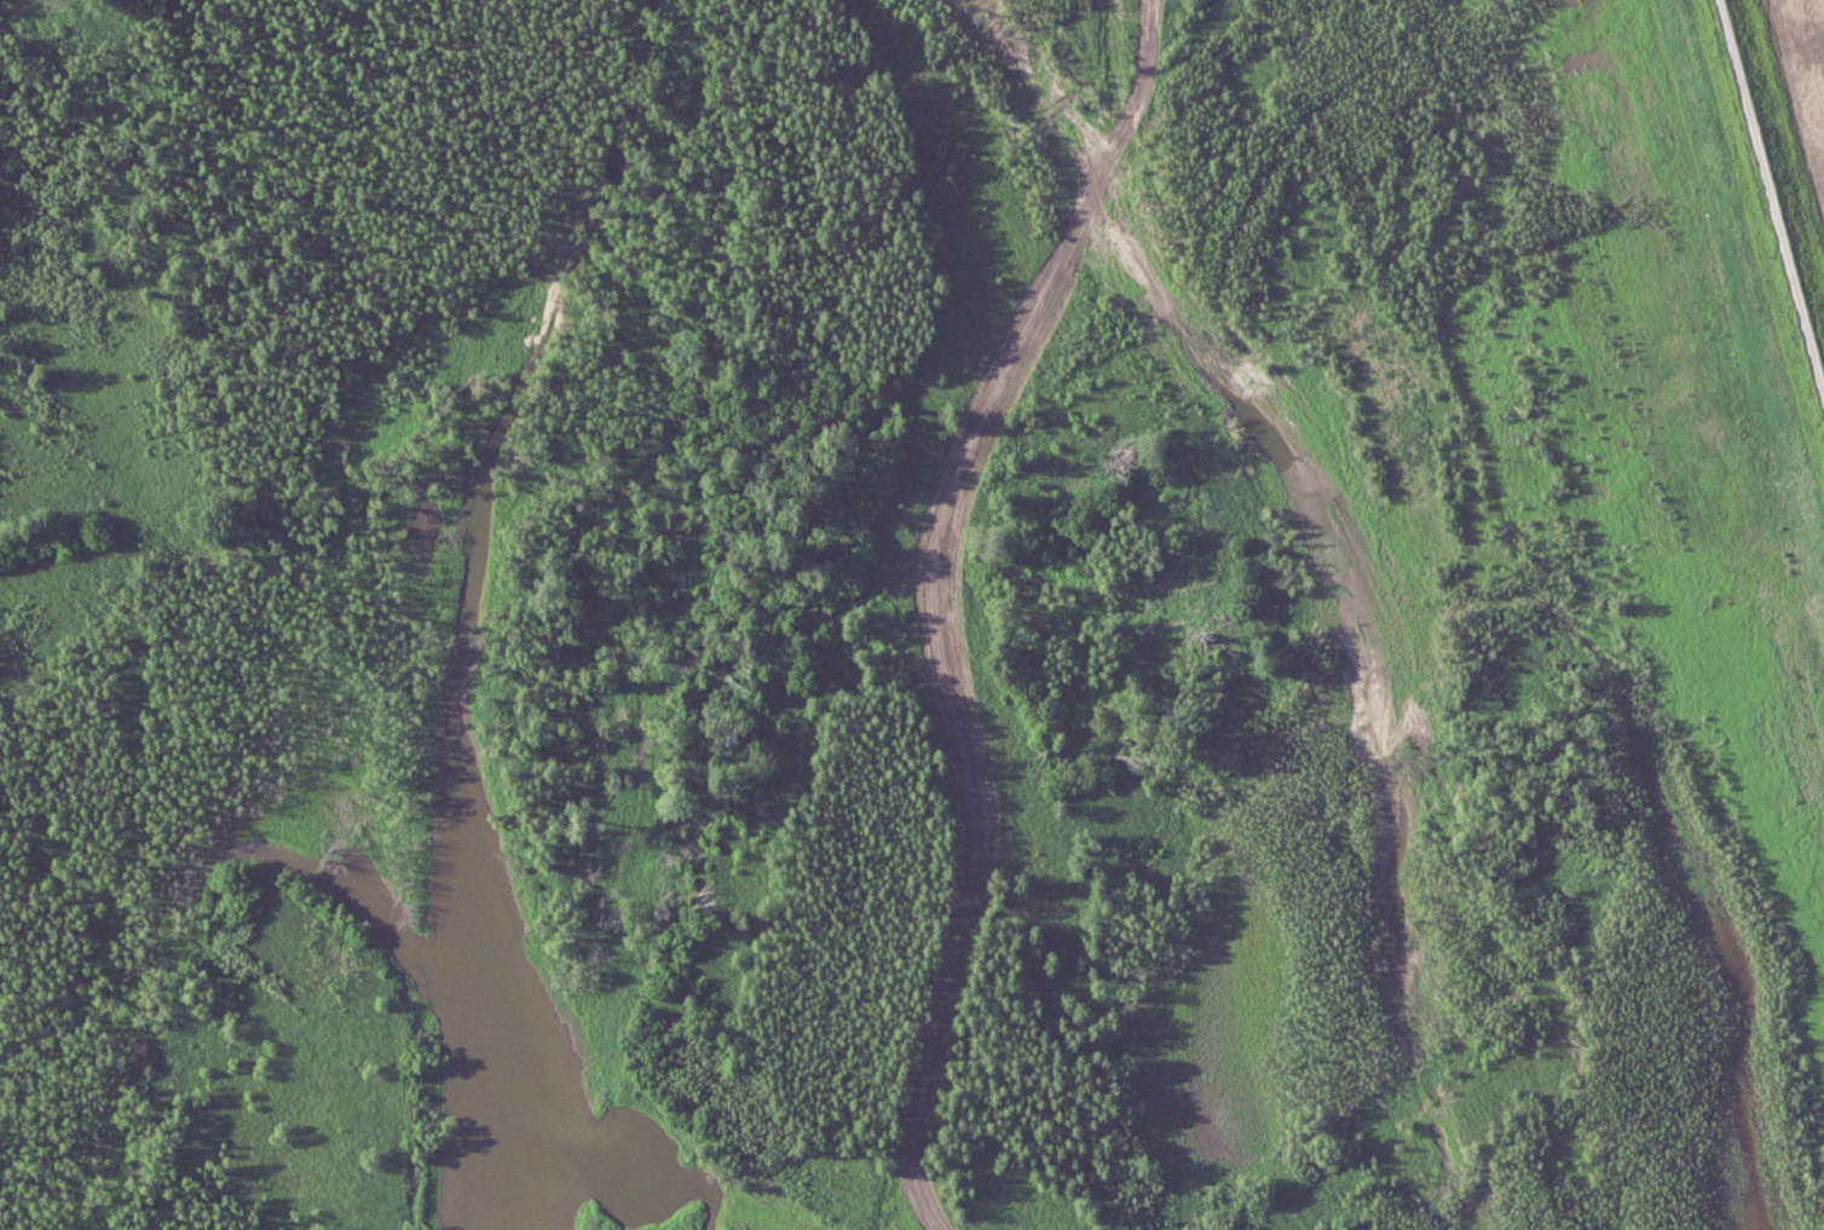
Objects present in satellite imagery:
road: (1771, 198)

